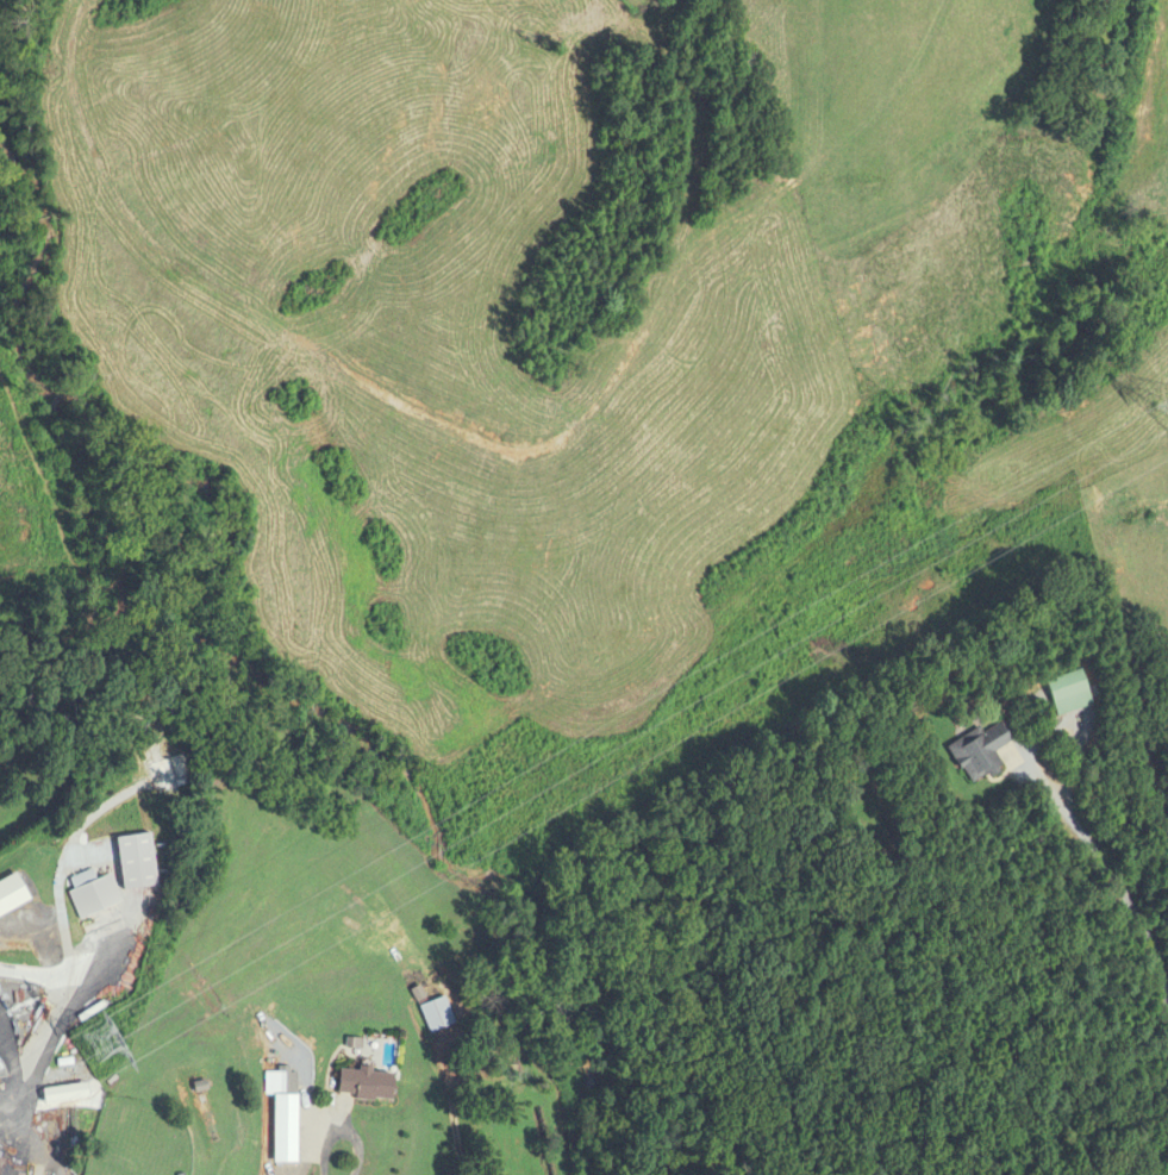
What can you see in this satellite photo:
building: (1068, 693)
building: (985, 754)
building: (137, 862)
road: (1112, 881)
building: (94, 895)
building: (437, 1014)
road: (62, 1023)
power tower: (102, 1042)
building: (367, 1085)
road: (452, 1119)
building: (286, 1130)
road: (341, 1131)

